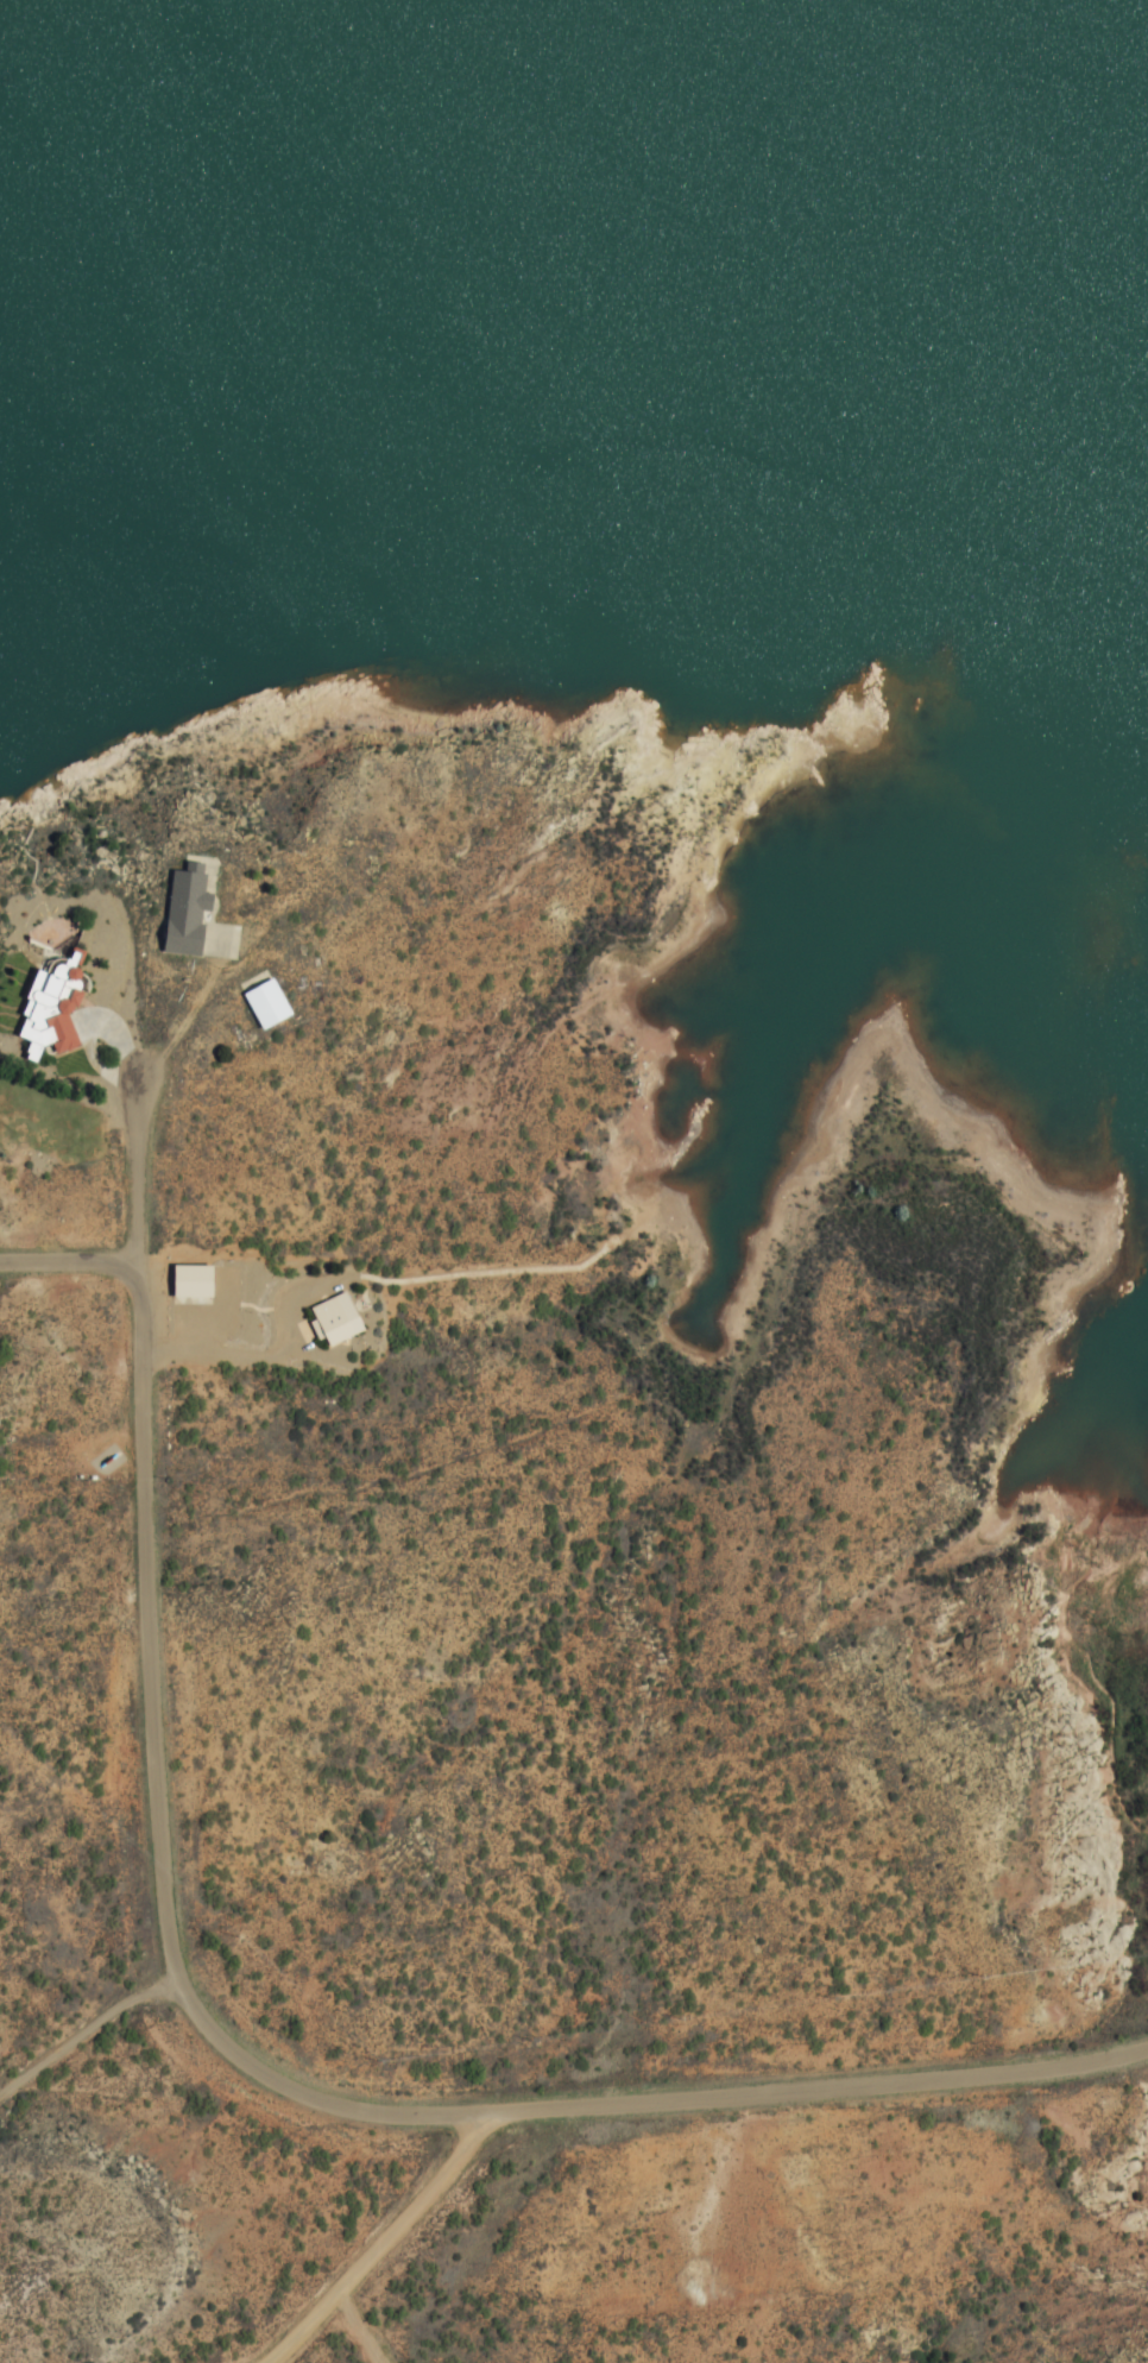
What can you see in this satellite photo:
river: (574, 82)
building: (172, 913)
building: (254, 1001)
building: (36, 1013)
road: (128, 1166)
building: (327, 1323)
road: (144, 1561)
road: (84, 2033)
road: (642, 2104)
road: (391, 2244)

